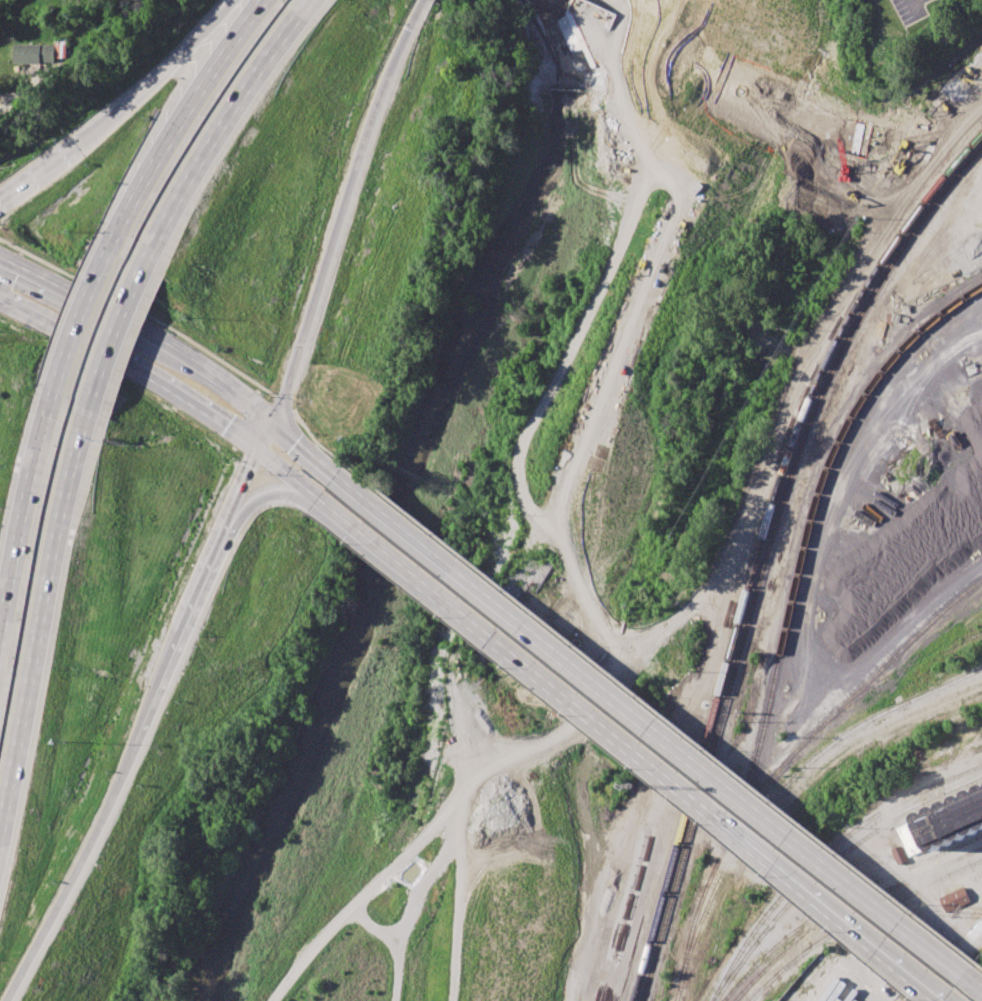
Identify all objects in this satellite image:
road: (420, 1)
road: (918, 6)
road: (204, 36)
building: (34, 53)
road: (31, 89)
road: (118, 111)
road: (188, 112)
road: (220, 117)
road: (37, 178)
road: (340, 209)
road: (592, 309)
road: (140, 313)
road: (80, 322)
road: (140, 331)
road: (108, 336)
railway: (978, 345)
road: (131, 364)
road: (804, 383)
road: (283, 404)
traffic signals: (271, 420)
road: (262, 433)
road: (315, 441)
traffic signals: (254, 447)
road: (302, 450)
road: (285, 473)
railway: (817, 478)
road: (240, 480)
road: (293, 492)
road: (269, 495)
river: (400, 501)
road: (242, 505)
road: (20, 524)
railway: (759, 545)
railway: (766, 554)
road: (200, 572)
railway: (977, 592)
railway: (962, 602)
railway: (939, 619)
road: (32, 620)
railway: (892, 625)
railway: (881, 650)
railway: (848, 654)
road: (154, 686)
railway: (839, 708)
road: (663, 716)
road: (651, 730)
road: (625, 750)
railway: (793, 780)
road: (582, 786)
building: (948, 818)
building: (905, 844)
railway: (823, 855)
railway: (827, 864)
road: (76, 872)
railway: (909, 894)
building: (954, 898)
railway: (840, 899)
railway: (700, 902)
railway: (848, 909)
road: (960, 955)
railway: (791, 961)
road: (975, 985)
road: (928, 989)

